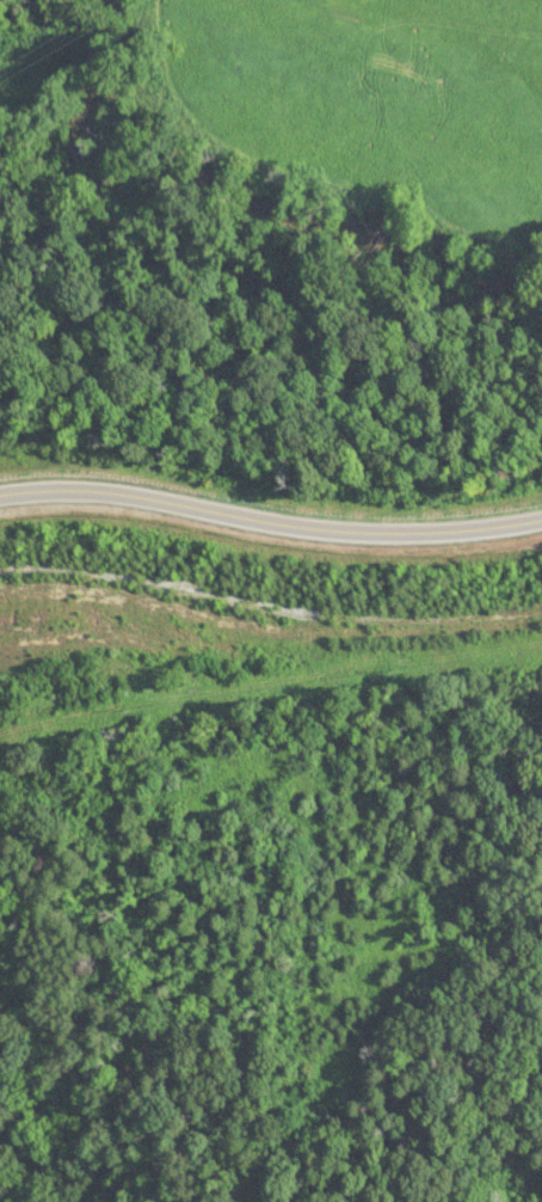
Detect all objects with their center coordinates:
river: (245, 207)
road: (270, 519)

